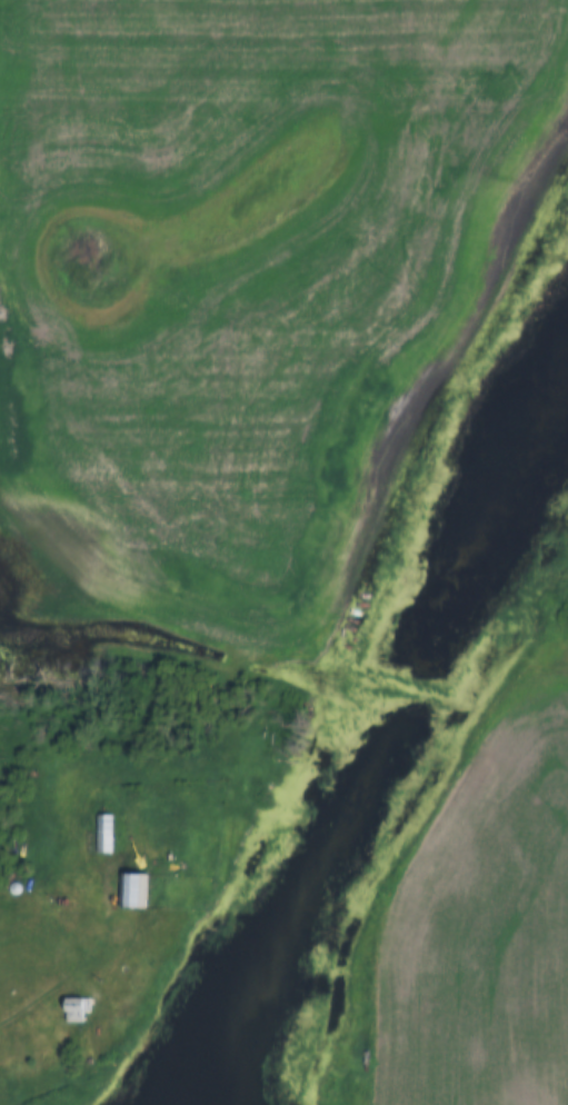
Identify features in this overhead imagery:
building: (103, 833)
building: (130, 890)
road: (80, 969)
building: (77, 1009)

